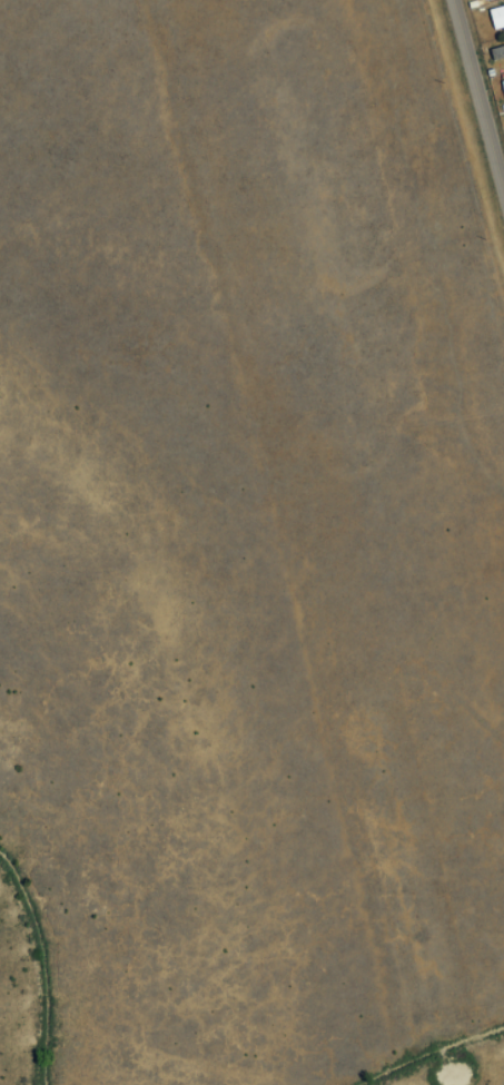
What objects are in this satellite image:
building: (483, 0)
building: (496, 17)
building: (496, 51)
road: (477, 101)

